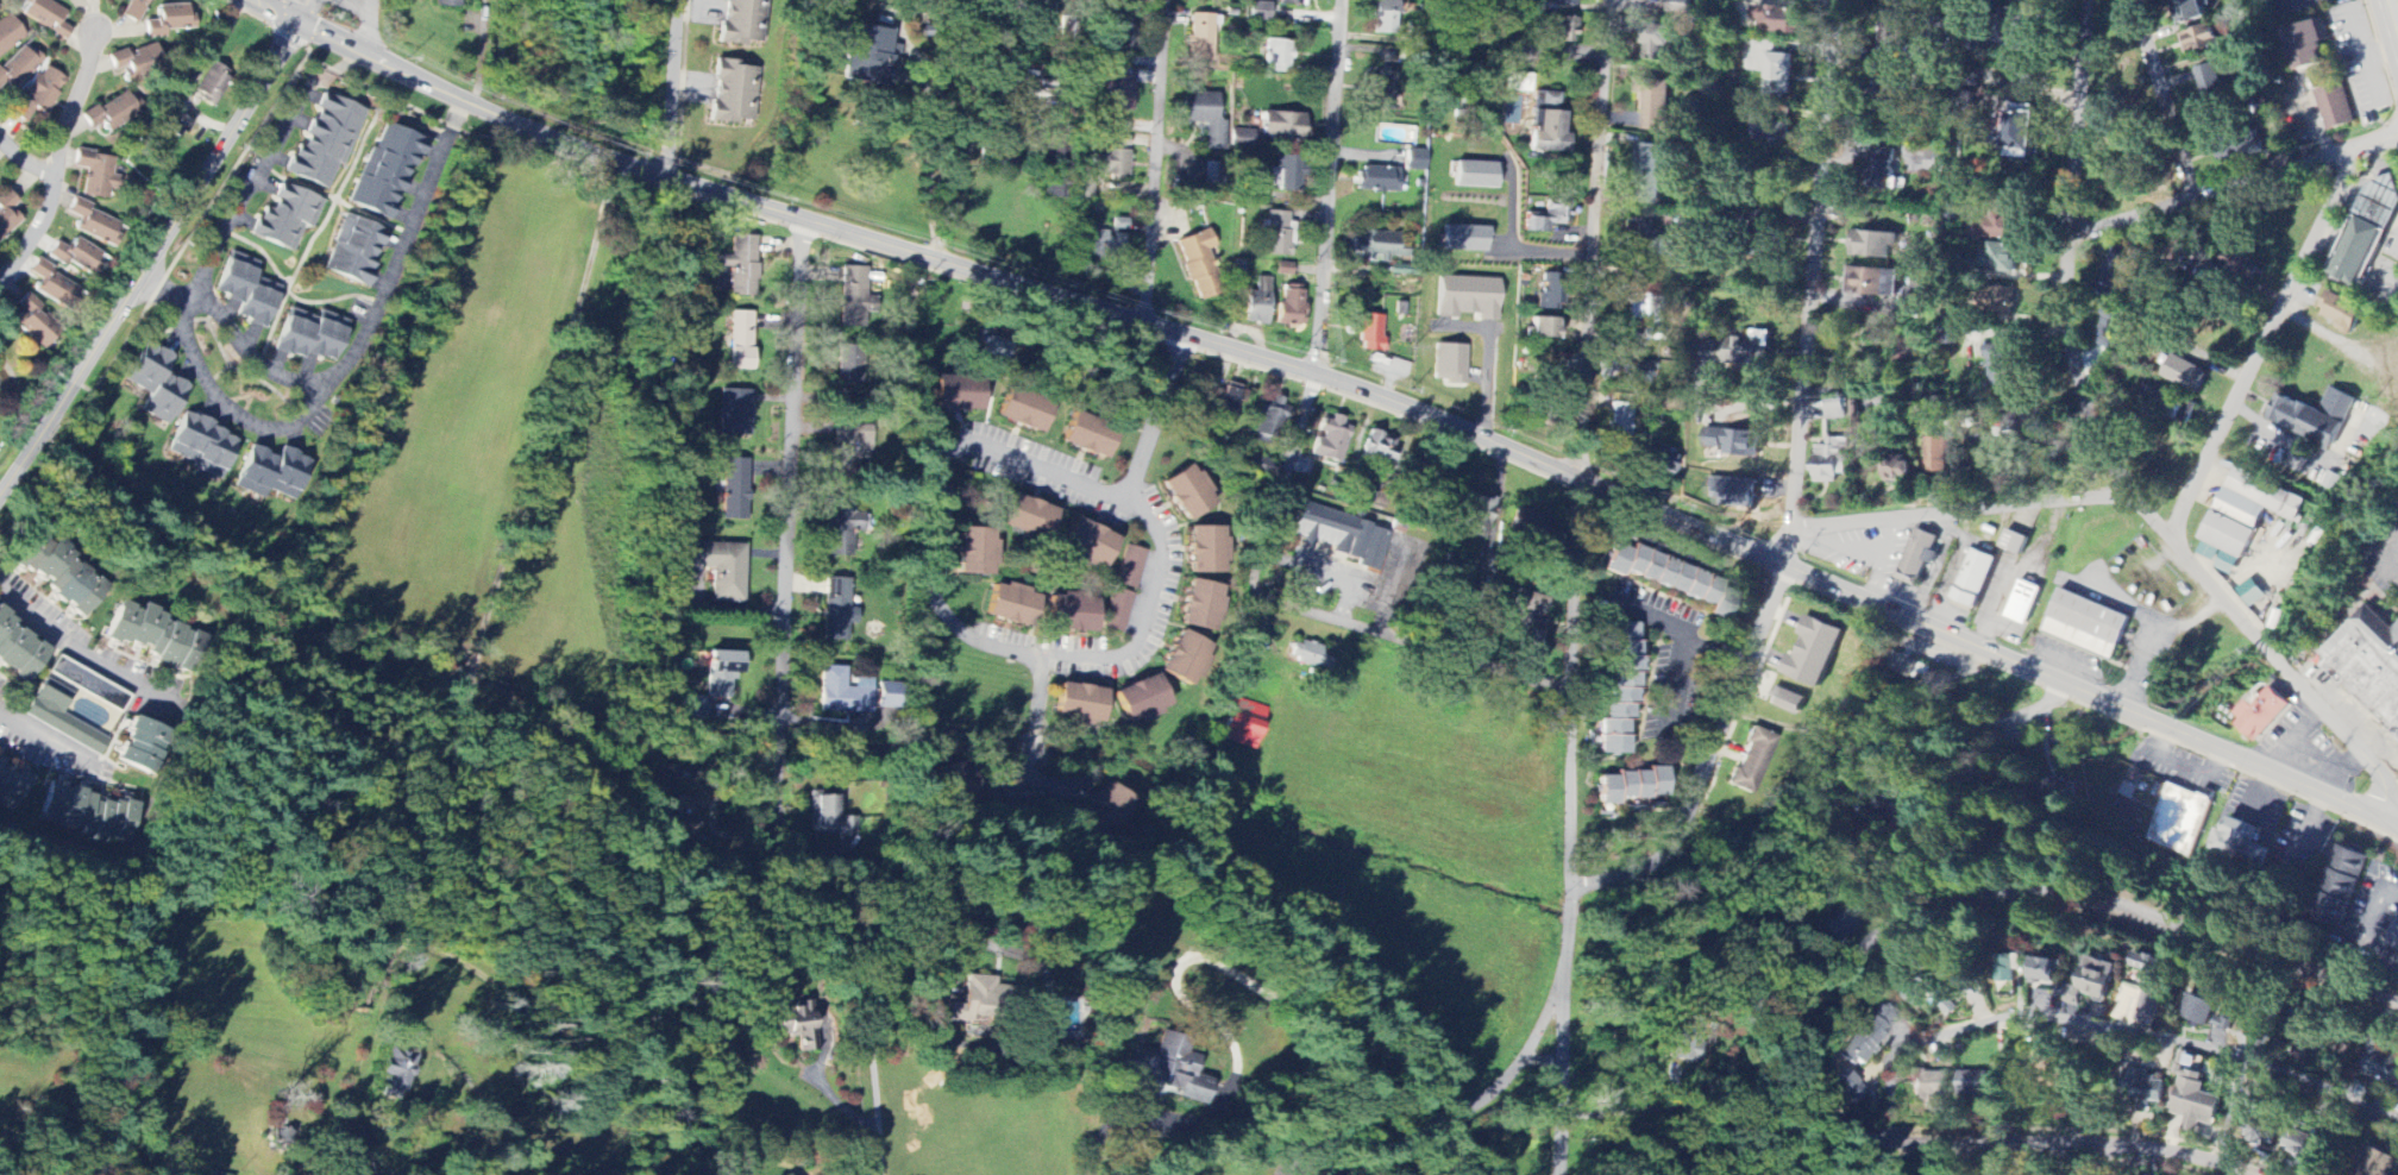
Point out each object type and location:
building: (1894, 1)
road: (1018, 2)
building: (1293, 2)
building: (1571, 2)
building: (447, 4)
building: (1677, 7)
road: (2394, 7)
building: (134, 10)
building: (2198, 11)
building: (1260, 12)
building: (45, 17)
building: (1385, 18)
building: (170, 20)
building: (1781, 20)
building: (745, 23)
building: (2030, 23)
building: (1894, 25)
traffic signals: (301, 26)
road: (371, 29)
building: (1568, 31)
building: (10, 34)
building: (1201, 37)
building: (1661, 42)
building: (2203, 42)
building: (2306, 45)
building: (868, 56)
building: (1279, 56)
building: (136, 62)
building: (20, 65)
building: (2026, 75)
building: (1779, 77)
building: (213, 82)
building: (1518, 83)
building: (2210, 83)
building: (1029, 88)
road: (673, 89)
building: (734, 93)
building: (1120, 93)
building: (1385, 93)
building: (42, 94)
road: (2160, 101)
building: (1656, 107)
building: (2335, 107)
building: (113, 113)
building: (1206, 118)
building: (176, 126)
road: (937, 126)
building: (1548, 126)
building: (1285, 128)
building: (2022, 130)
building: (1771, 131)
building: (1243, 138)
building: (325, 144)
road: (26, 159)
building: (1113, 159)
road: (1155, 161)
building: (1415, 161)
building: (1935, 164)
road: (58, 166)
building: (1882, 170)
building: (385, 172)
building: (96, 175)
building: (1214, 175)
building: (1287, 175)
building: (1477, 176)
building: (1649, 176)
building: (1377, 180)
road: (1331, 188)
road: (2231, 189)
road: (247, 195)
building: (7, 214)
building: (288, 219)
building: (1549, 219)
building: (96, 225)
building: (1120, 225)
building: (1995, 231)
building: (1278, 234)
building: (1643, 234)
building: (2369, 234)
building: (1467, 240)
building: (1100, 245)
building: (1875, 246)
building: (1375, 247)
building: (354, 251)
road: (401, 257)
road: (1812, 257)
building: (79, 258)
building: (2001, 259)
road: (152, 264)
building: (2241, 264)
building: (742, 265)
building: (1200, 265)
building: (1285, 270)
building: (2121, 274)
road: (1010, 282)
building: (1873, 283)
building: (54, 285)
building: (250, 291)
building: (1549, 293)
building: (853, 297)
building: (1468, 299)
building: (2001, 302)
building: (1258, 303)
building: (1291, 306)
building: (1646, 308)
building: (2342, 312)
building: (33, 322)
building: (1545, 329)
building: (1371, 334)
building: (313, 337)
building: (741, 341)
building: (997, 348)
building: (1739, 353)
road: (1490, 362)
building: (1450, 364)
building: (849, 366)
building: (2001, 366)
building: (1640, 372)
building: (2185, 376)
building: (156, 385)
building: (960, 396)
building: (1230, 400)
building: (2174, 408)
building: (1834, 410)
building: (735, 414)
building: (1025, 414)
building: (2023, 417)
building: (2315, 417)
building: (1272, 419)
building: (1621, 422)
road: (280, 429)
building: (1090, 438)
building: (1332, 440)
building: (1735, 444)
road: (2101, 446)
building: (201, 447)
building: (852, 448)
building: (1380, 448)
building: (1938, 455)
building: (1831, 460)
building: (1661, 464)
building: (1260, 465)
building: (1896, 470)
building: (272, 473)
building: (735, 489)
road: (2174, 491)
building: (1733, 492)
building: (1189, 494)
building: (2248, 511)
building: (1030, 517)
building: (1477, 517)
road: (1788, 521)
building: (1531, 524)
building: (840, 528)
building: (1343, 534)
building: (2014, 542)
road: (1775, 543)
road: (928, 545)
building: (1090, 545)
road: (1785, 546)
building: (1209, 551)
road: (787, 552)
building: (975, 552)
building: (2209, 552)
building: (1919, 558)
building: (2229, 564)
building: (1131, 567)
building: (721, 568)
building: (57, 573)
building: (1674, 578)
building: (1975, 579)
road: (1576, 586)
building: (2252, 593)
building: (2023, 603)
building: (1013, 605)
building: (1204, 607)
building: (837, 610)
building: (1118, 610)
building: (1074, 614)
road: (1304, 614)
building: (1527, 614)
road: (1658, 617)
building: (2088, 626)
building: (152, 635)
building: (18, 649)
road: (79, 649)
building: (1814, 653)
building: (1308, 655)
road: (1682, 656)
building: (1187, 659)
building: (2368, 666)
building: (1908, 667)
building: (722, 673)
building: (1621, 689)
building: (843, 692)
road: (2088, 692)
building: (890, 696)
road: (1037, 696)
building: (1142, 699)
road: (561, 700)
building: (1788, 702)
building: (1081, 705)
building: (692, 709)
building: (2262, 714)
building: (63, 718)
building: (1243, 722)
building: (139, 744)
road: (63, 746)
road: (1031, 747)
road: (1709, 760)
building: (1752, 761)
road: (1029, 772)
building: (665, 775)
building: (12, 784)
building: (960, 786)
building: (1633, 786)
building: (89, 812)
building: (1109, 812)
building: (2179, 819)
building: (680, 821)
building: (2239, 843)
building: (2340, 887)
building: (1841, 922)
road: (2364, 925)
building: (2394, 943)
road: (447, 953)
road: (1180, 963)
building: (2005, 969)
road: (1837, 972)
building: (2048, 972)
building: (2147, 981)
building: (2095, 982)
building: (1917, 987)
building: (1947, 1004)
building: (981, 1007)
building: (2199, 1010)
building: (1068, 1019)
road: (870, 1022)
building: (2222, 1024)
building: (798, 1025)
road: (2104, 1025)
building: (1870, 1033)
building: (1689, 1039)
road: (2227, 1061)
building: (2380, 1064)
building: (398, 1067)
building: (1170, 1069)
road: (818, 1082)
building: (1976, 1085)
building: (1929, 1086)
building: (1846, 1087)
building: (2145, 1091)
building: (2195, 1101)
road: (1467, 1108)
road: (1620, 1113)
building: (2308, 1146)
road: (2088, 1160)
building: (2373, 1162)
building: (213, 1174)

